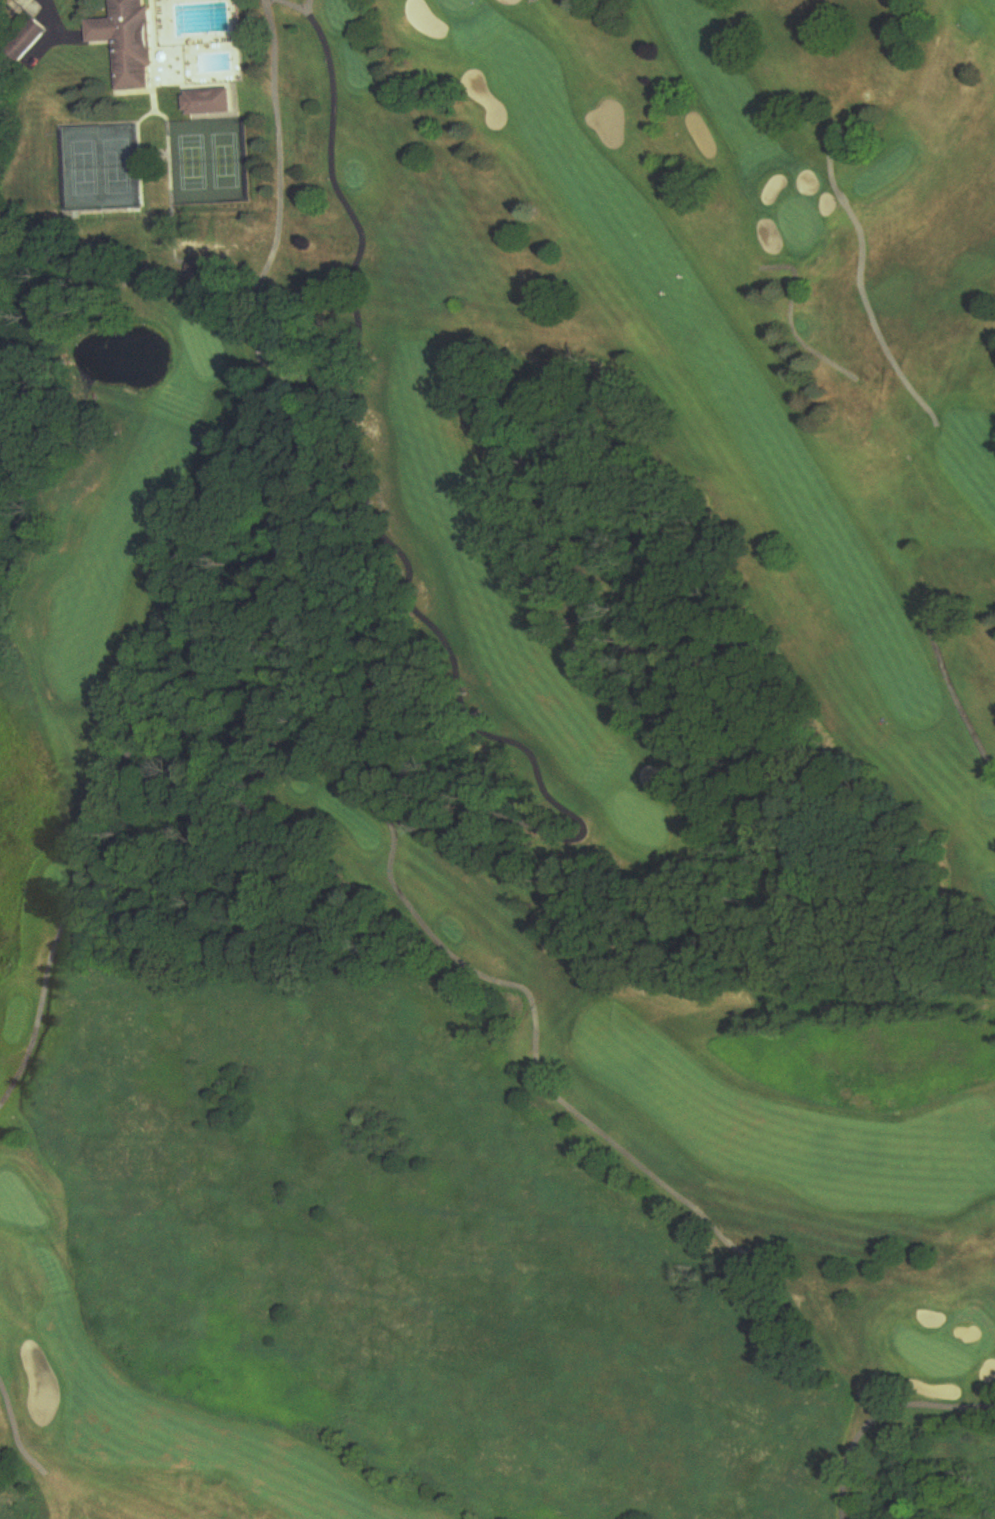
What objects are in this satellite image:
building: (27, 41)
building: (130, 42)
building: (211, 102)
park: (206, 162)
park: (101, 168)
park: (499, 760)

